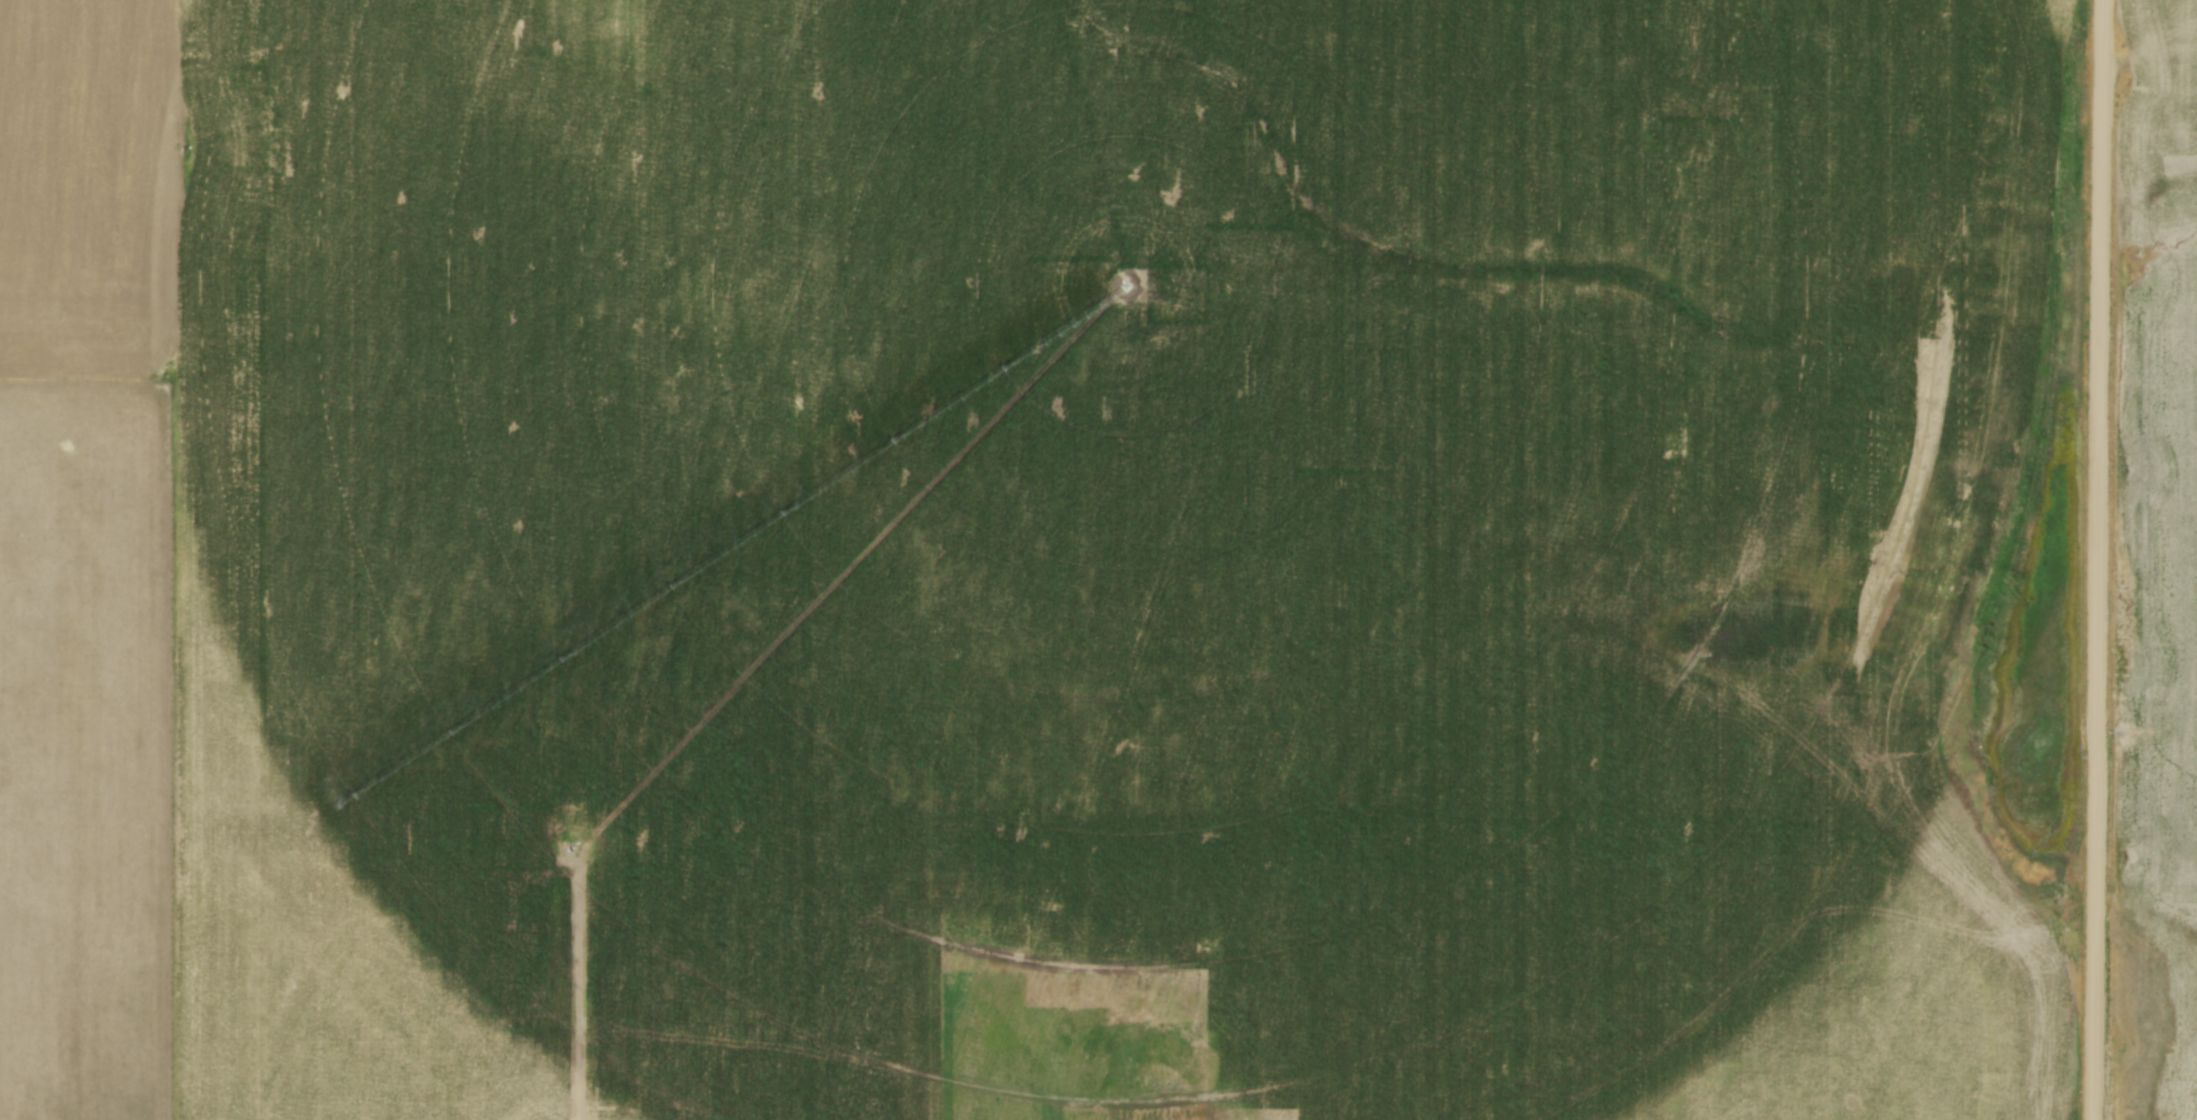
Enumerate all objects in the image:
crop: (1014, 558)
road: (2099, 559)
crop: (2158, 580)

